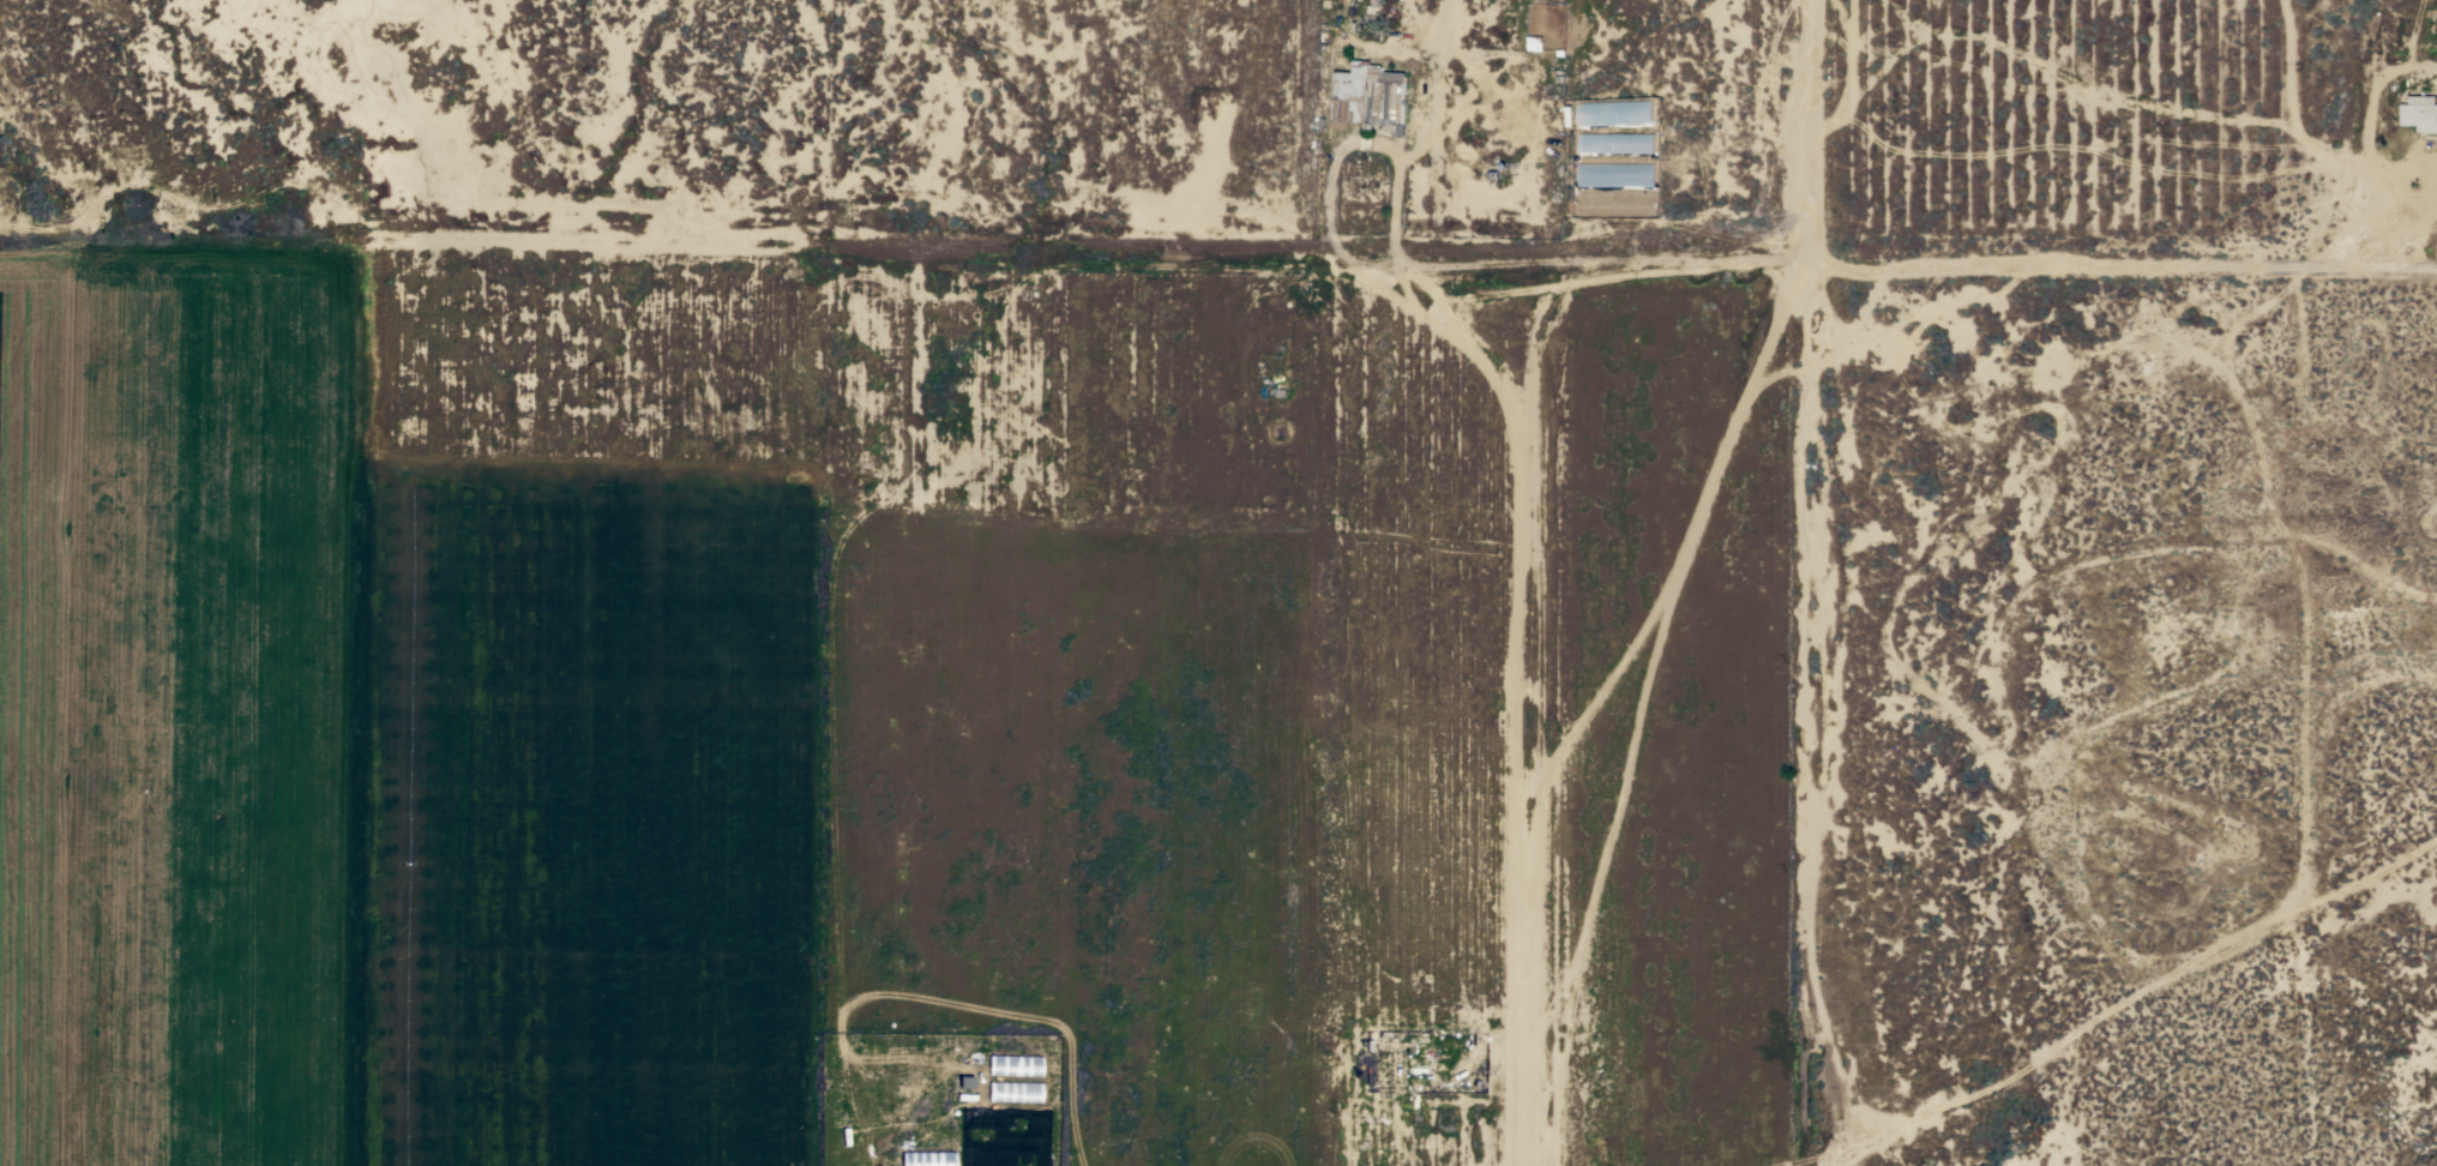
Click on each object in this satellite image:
building: (1534, 24)
building: (1367, 98)
building: (2419, 113)
road: (1806, 126)
road: (1396, 216)
road: (2123, 253)
road: (1512, 296)
crop: (367, 774)
building: (1010, 1066)
building: (1011, 1093)

